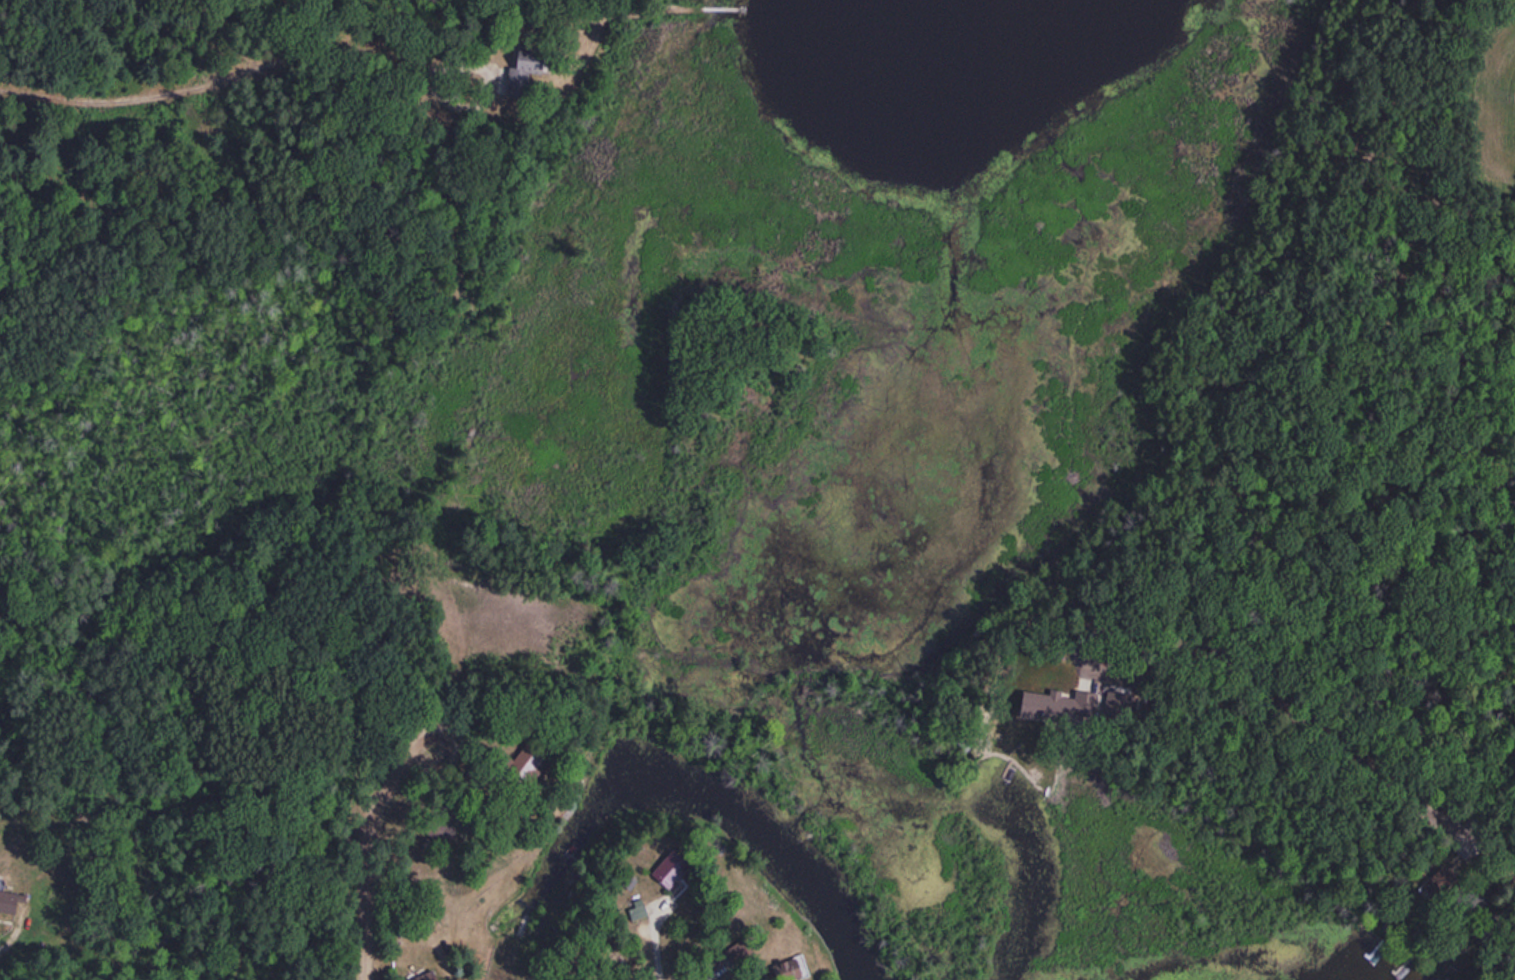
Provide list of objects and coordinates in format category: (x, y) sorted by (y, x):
building: (523, 69)
building: (1059, 705)
road: (1285, 713)
building: (525, 762)
building: (437, 828)
road: (368, 839)
building: (668, 868)
building: (1435, 884)
building: (7, 902)
building: (634, 910)
building: (787, 968)
building: (424, 976)

